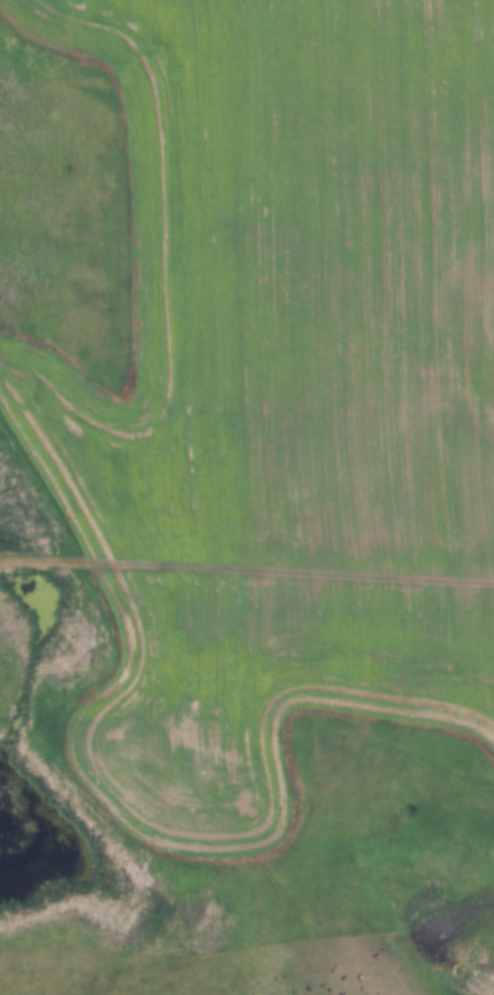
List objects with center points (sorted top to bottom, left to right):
road: (246, 566)

